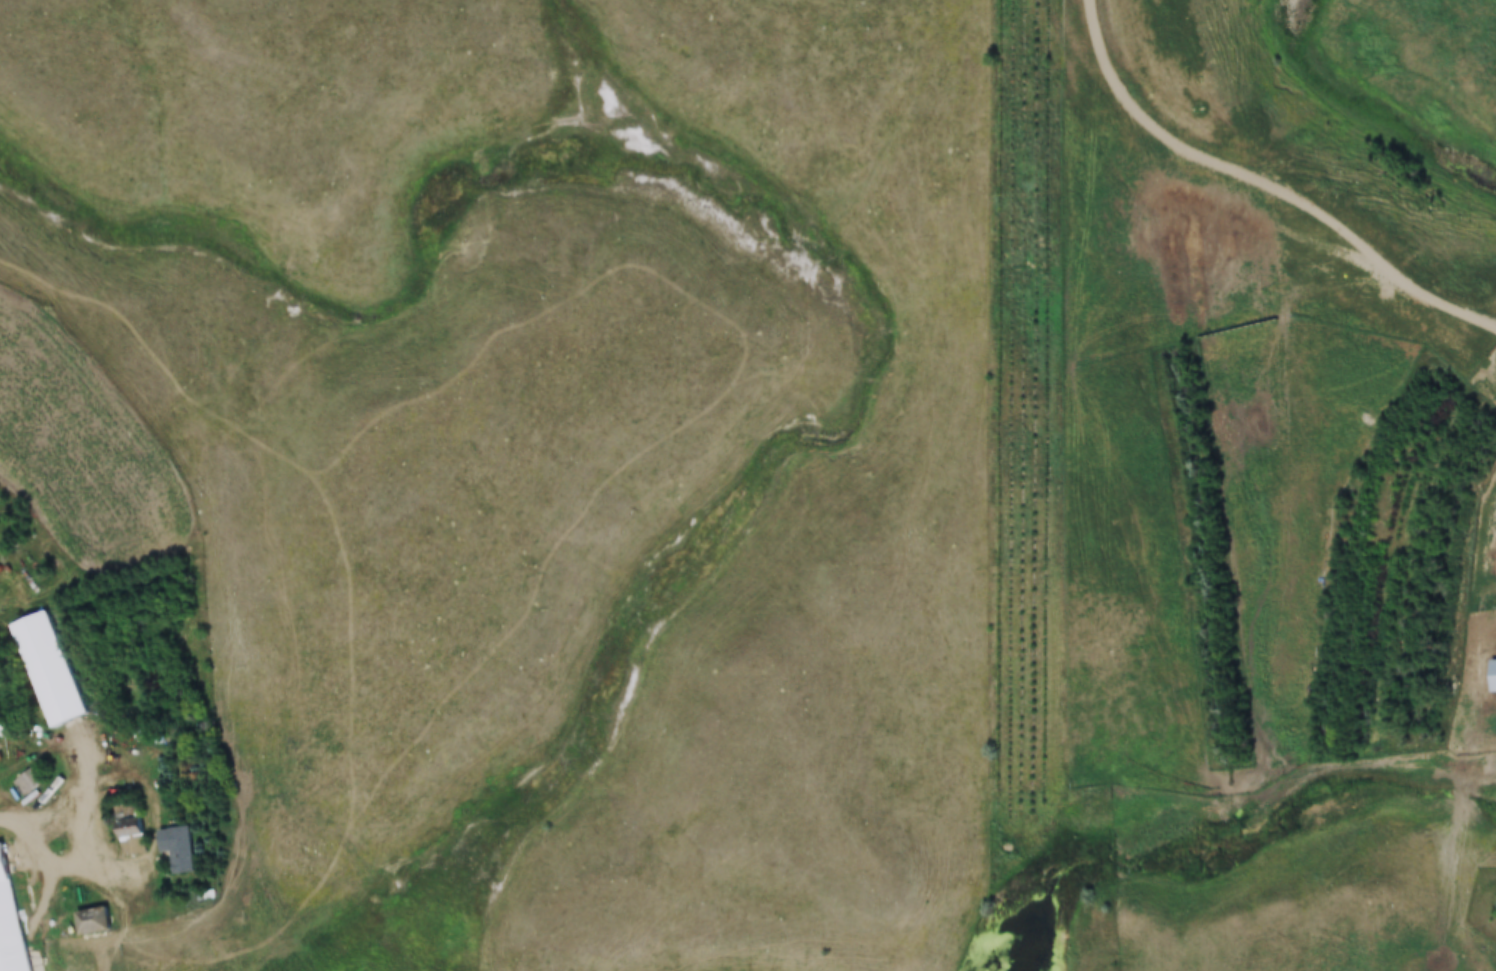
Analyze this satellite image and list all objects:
road: (1250, 179)
building: (49, 668)
building: (1493, 674)
building: (30, 779)
building: (130, 829)
road: (85, 830)
building: (178, 847)
building: (10, 920)
building: (93, 920)

